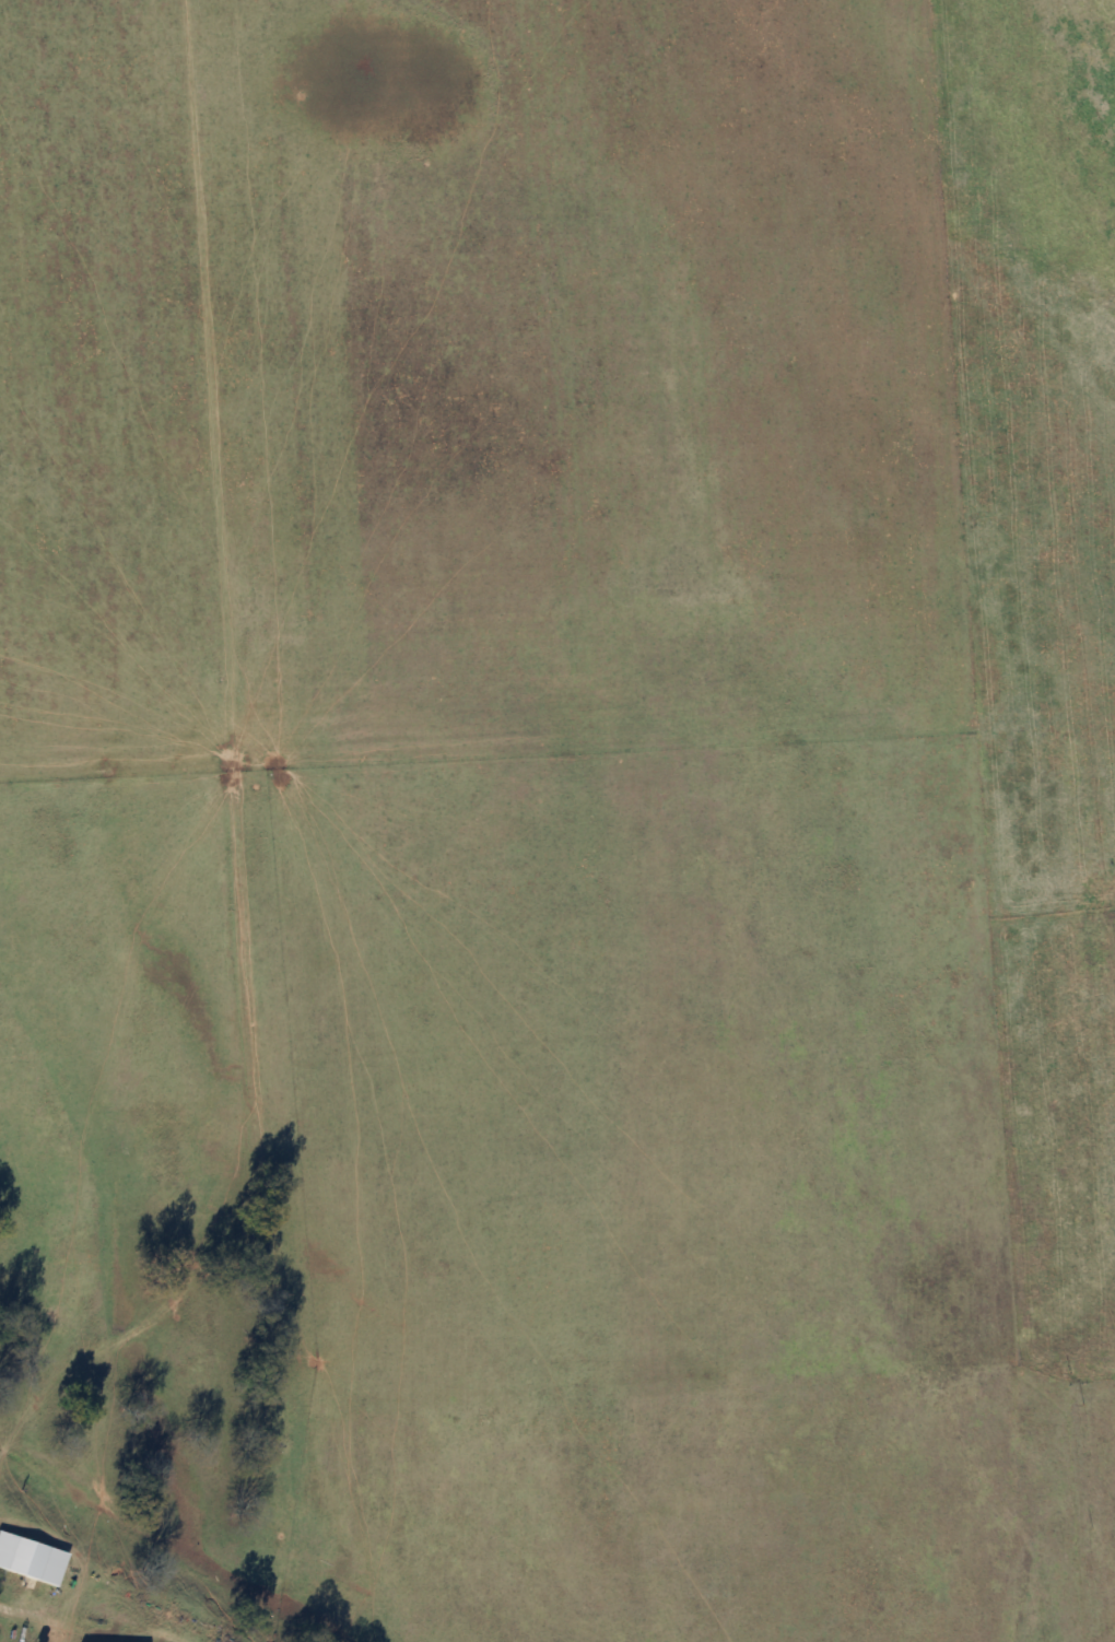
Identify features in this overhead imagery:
building: (30, 1559)

